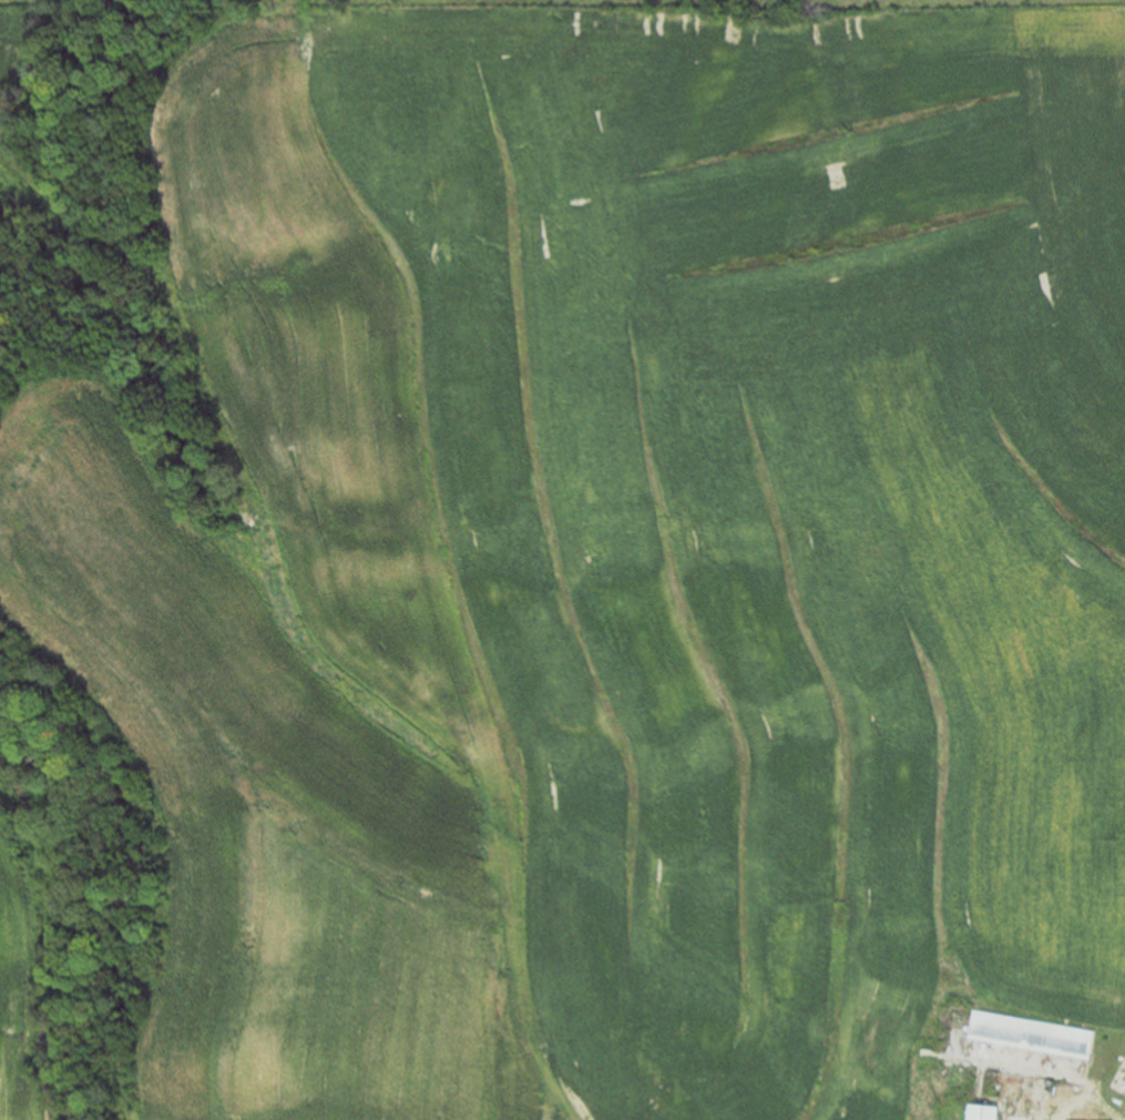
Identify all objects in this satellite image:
building: (1027, 1035)
building: (975, 1113)
building: (1016, 1118)

